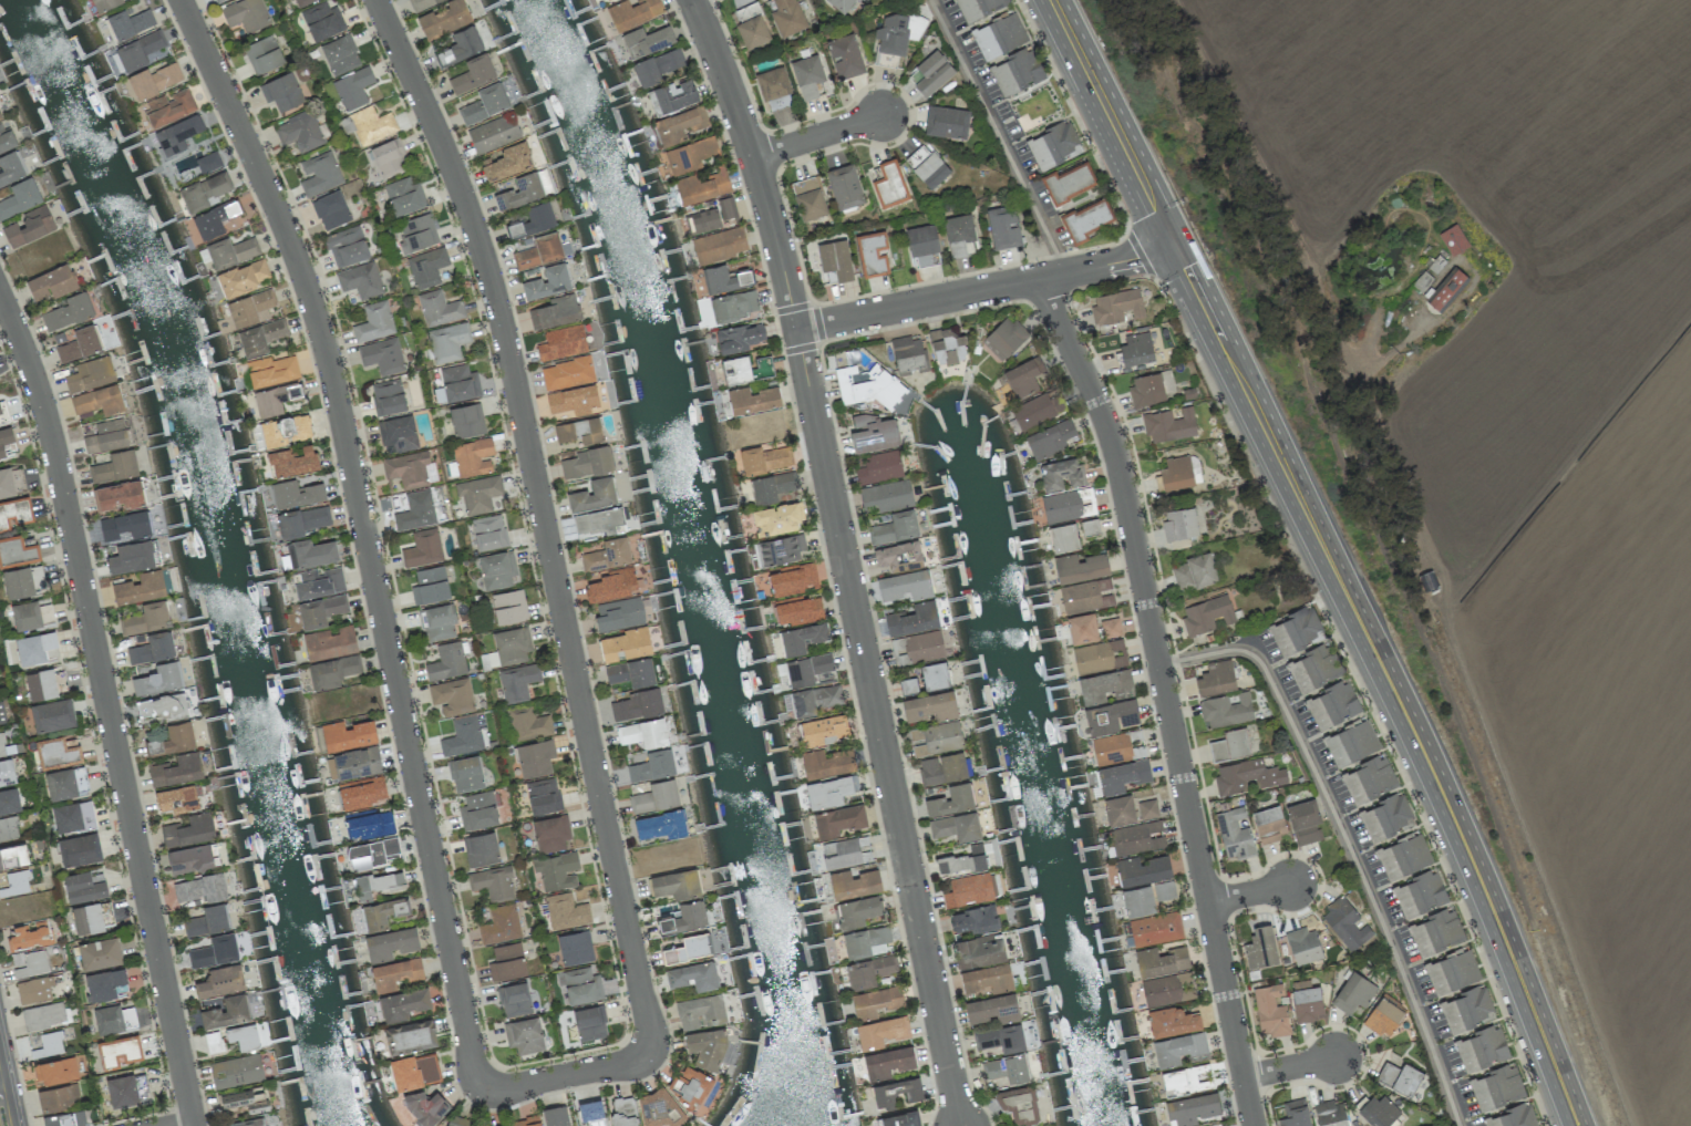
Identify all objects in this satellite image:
building: (607, 0)
building: (218, 1)
building: (302, 2)
building: (422, 3)
building: (105, 4)
building: (842, 4)
building: (978, 8)
building: (632, 12)
building: (246, 14)
building: (787, 17)
building: (444, 19)
building: (322, 21)
building: (130, 23)
building: (751, 27)
building: (898, 32)
building: (999, 35)
building: (646, 41)
building: (461, 47)
building: (262, 54)
building: (340, 54)
building: (845, 56)
building: (657, 66)
building: (1017, 72)
building: (932, 73)
building: (473, 74)
building: (807, 76)
building: (154, 80)
building: (352, 89)
building: (774, 89)
building: (282, 92)
building: (672, 96)
building: (484, 104)
building: (169, 107)
building: (0, 117)
building: (947, 122)
road: (1113, 124)
building: (368, 125)
building: (678, 125)
building: (299, 132)
building: (494, 133)
building: (177, 134)
road: (1000, 136)
building: (4, 138)
road: (821, 138)
building: (1053, 145)
building: (690, 155)
building: (389, 158)
building: (208, 162)
building: (508, 162)
road: (756, 162)
building: (927, 166)
building: (11, 168)
building: (319, 174)
building: (1068, 183)
building: (805, 185)
building: (889, 185)
building: (702, 186)
building: (844, 187)
building: (205, 192)
building: (520, 192)
building: (404, 196)
building: (19, 197)
building: (811, 205)
building: (331, 210)
building: (714, 216)
building: (1087, 219)
building: (214, 220)
building: (533, 220)
building: (29, 227)
building: (1003, 227)
building: (416, 234)
building: (959, 234)
building: (1453, 239)
building: (719, 245)
building: (922, 245)
building: (347, 246)
traffic signals: (1176, 248)
building: (230, 251)
building: (538, 251)
building: (873, 255)
building: (836, 259)
building: (426, 267)
building: (243, 277)
building: (724, 279)
building: (360, 280)
building: (547, 282)
building: (50, 283)
building: (1440, 288)
road: (988, 291)
building: (734, 306)
building: (1116, 307)
building: (250, 308)
building: (439, 308)
building: (68, 312)
building: (555, 312)
building: (373, 322)
building: (260, 337)
building: (739, 338)
building: (1004, 338)
building: (447, 341)
building: (561, 342)
building: (80, 344)
building: (947, 345)
building: (1136, 349)
building: (909, 353)
building: (382, 355)
building: (746, 369)
building: (271, 370)
building: (567, 373)
building: (90, 374)
building: (1023, 376)
building: (458, 383)
building: (865, 385)
building: (1151, 388)
building: (388, 397)
crop: (1535, 397)
building: (276, 399)
building: (574, 400)
building: (753, 400)
building: (99, 401)
building: (1038, 409)
building: (2, 413)
building: (466, 421)
building: (1168, 425)
building: (285, 430)
building: (579, 431)
building: (873, 433)
building: (398, 434)
building: (106, 436)
building: (1051, 437)
building: (6, 442)
building: (473, 456)
building: (764, 458)
building: (292, 461)
building: (587, 463)
building: (115, 466)
building: (879, 467)
building: (406, 469)
building: (1176, 473)
building: (1061, 474)
building: (6, 483)
building: (773, 486)
building: (296, 494)
building: (477, 494)
building: (118, 495)
building: (594, 495)
building: (887, 495)
building: (1062, 506)
building: (416, 510)
building: (16, 513)
road: (545, 518)
building: (777, 518)
building: (303, 520)
building: (598, 521)
building: (1179, 524)
building: (125, 526)
building: (1090, 527)
building: (894, 528)
building: (488, 533)
road: (368, 535)
building: (1063, 538)
building: (423, 548)
building: (781, 549)
building: (17, 551)
building: (310, 552)
building: (607, 555)
building: (898, 555)
building: (131, 557)
building: (1080, 567)
building: (496, 569)
building: (1195, 572)
building: (793, 580)
building: (22, 581)
building: (319, 582)
building: (430, 586)
building: (612, 586)
building: (905, 586)
building: (140, 588)
building: (1086, 596)
building: (508, 607)
building: (321, 610)
building: (798, 611)
building: (619, 614)
building: (1206, 614)
building: (25, 616)
building: (146, 618)
building: (912, 619)
building: (437, 622)
building: (1082, 628)
building: (1110, 628)
building: (1296, 631)
building: (802, 638)
building: (330, 642)
building: (626, 644)
building: (512, 645)
building: (924, 645)
building: (37, 648)
building: (153, 649)
building: (1093, 658)
building: (446, 662)
building: (1314, 668)
building: (807, 669)
building: (332, 672)
building: (631, 672)
building: (935, 675)
building: (1216, 678)
building: (157, 679)
building: (517, 682)
building: (45, 684)
building: (1104, 686)
road: (1368, 686)
building: (452, 696)
road: (1163, 698)
building: (814, 700)
road: (109, 704)
building: (635, 705)
building: (1332, 705)
building: (163, 706)
building: (929, 706)
building: (1226, 709)
building: (1, 714)
building: (52, 715)
building: (1111, 716)
building: (527, 723)
road: (881, 729)
building: (824, 730)
building: (643, 733)
building: (347, 735)
building: (462, 736)
building: (178, 737)
building: (936, 738)
building: (1351, 743)
building: (1229, 745)
building: (1, 746)
building: (1112, 748)
building: (59, 751)
building: (535, 758)
building: (827, 762)
building: (355, 763)
building: (652, 766)
building: (942, 768)
building: (177, 769)
building: (7, 772)
building: (465, 774)
building: (1122, 776)
building: (1246, 776)
building: (1369, 779)
building: (66, 783)
building: (828, 792)
building: (360, 794)
building: (543, 796)
building: (656, 797)
building: (176, 798)
building: (9, 800)
building: (950, 800)
building: (1147, 808)
building: (1120, 809)
building: (477, 810)
building: (73, 816)
building: (1385, 816)
building: (838, 820)
building: (1305, 820)
building: (1269, 824)
building: (660, 825)
building: (367, 826)
building: (956, 827)
building: (8, 828)
building: (189, 830)
building: (1234, 833)
building: (550, 834)
building: (1137, 837)
road: (1343, 840)
building: (79, 849)
building: (481, 849)
building: (373, 853)
building: (845, 853)
building: (12, 856)
building: (1404, 856)
building: (189, 858)
building: (962, 861)
building: (1142, 869)
building: (557, 870)
building: (493, 882)
building: (14, 884)
building: (377, 884)
building: (677, 884)
building: (854, 884)
building: (83, 887)
building: (200, 888)
building: (968, 890)
building: (1164, 890)
building: (1420, 893)
road: (1250, 896)
building: (1137, 900)
building: (857, 910)
building: (564, 911)
building: (383, 912)
building: (684, 918)
building: (86, 919)
building: (973, 919)
building: (207, 920)
building: (1344, 923)
building: (499, 924)
building: (1155, 929)
building: (1435, 931)
building: (30, 934)
building: (866, 941)
building: (390, 943)
building: (1303, 944)
building: (689, 947)
building: (1260, 947)
building: (575, 948)
building: (979, 950)
building: (214, 951)
building: (99, 953)
building: (1161, 961)
building: (506, 962)
building: (29, 963)
building: (869, 971)
building: (1452, 971)
building: (394, 973)
building: (693, 975)
building: (987, 979)
building: (220, 981)
building: (104, 984)
building: (581, 985)
building: (1167, 989)
building: (34, 990)
building: (1353, 993)
building: (514, 1000)
building: (875, 1001)
building: (1306, 1001)
building: (403, 1004)
building: (992, 1009)
building: (1466, 1009)
building: (700, 1011)
building: (1270, 1011)
building: (226, 1012)
building: (1383, 1016)
building: (113, 1019)
building: (1172, 1021)
building: (590, 1023)
building: (880, 1032)
building: (524, 1035)
building: (243, 1036)
building: (410, 1036)
building: (1000, 1039)
building: (213, 1042)
building: (48, 1045)
building: (705, 1046)
building: (1482, 1047)
building: (1179, 1048)
building: (120, 1050)
building: (888, 1062)
building: (1007, 1068)
road: (1292, 1068)
building: (55, 1070)
building: (236, 1071)
building: (414, 1071)
road: (567, 1074)
building: (1400, 1077)
building: (1184, 1079)
road: (2, 1086)
building: (692, 1087)
building: (1496, 1087)
building: (124, 1091)
building: (896, 1092)
road: (6, 1095)
building: (56, 1097)
building: (246, 1099)
building: (1018, 1104)
building: (425, 1106)
building: (658, 1107)
building: (1192, 1108)
park: (4, 1109)
building: (1376, 1110)
building: (623, 1112)
building: (591, 1113)
building: (1295, 1113)
building: (1330, 1114)
building: (555, 1116)
building: (1513, 1116)
building: (65, 1118)
building: (900, 1119)
building: (458, 1120)
building: (526, 1122)
building: (248, 1123)
road: (185, 1124)
building: (505, 1125)

